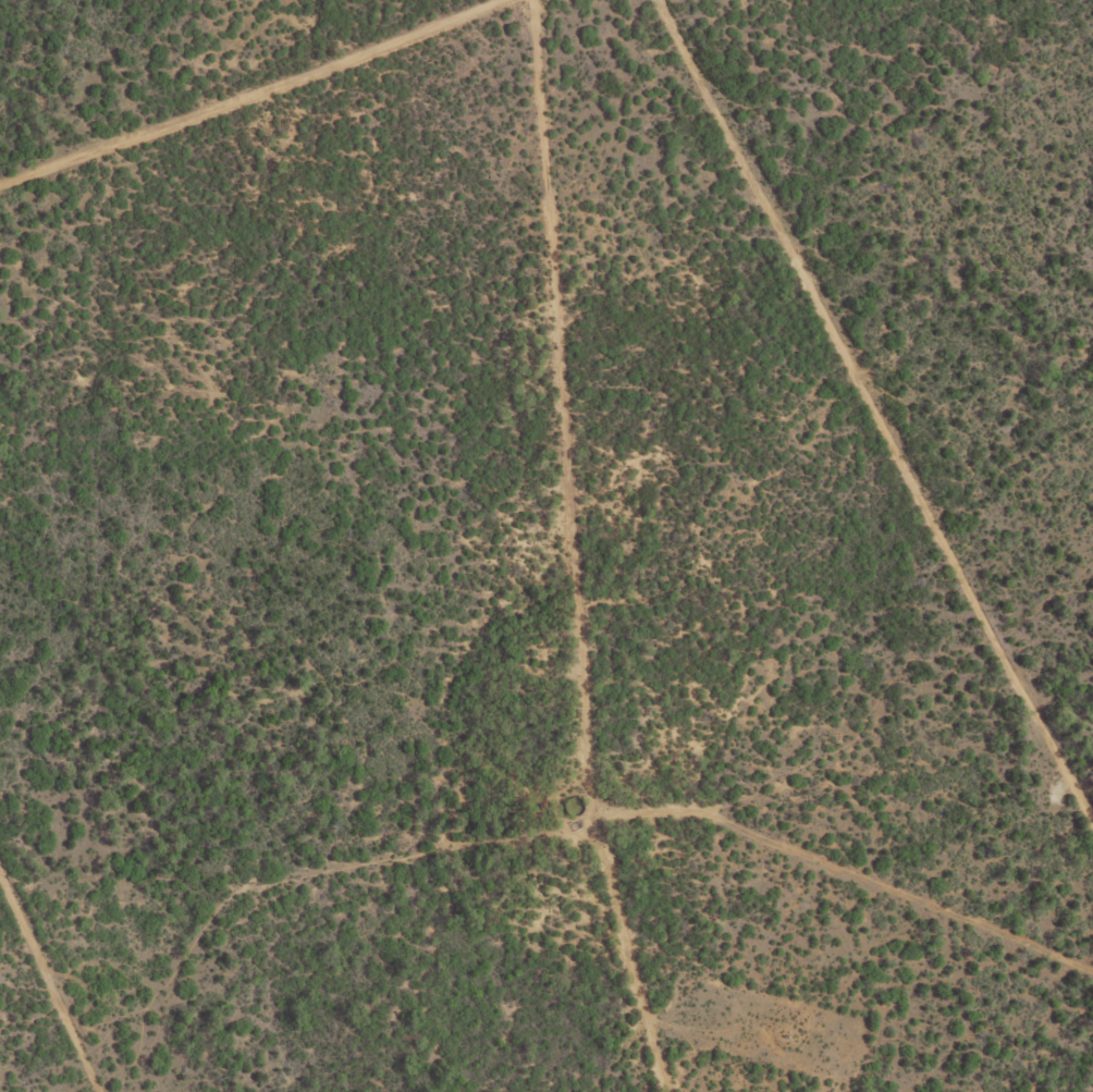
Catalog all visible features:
road: (844, 457)
road: (886, 867)
road: (64, 983)

